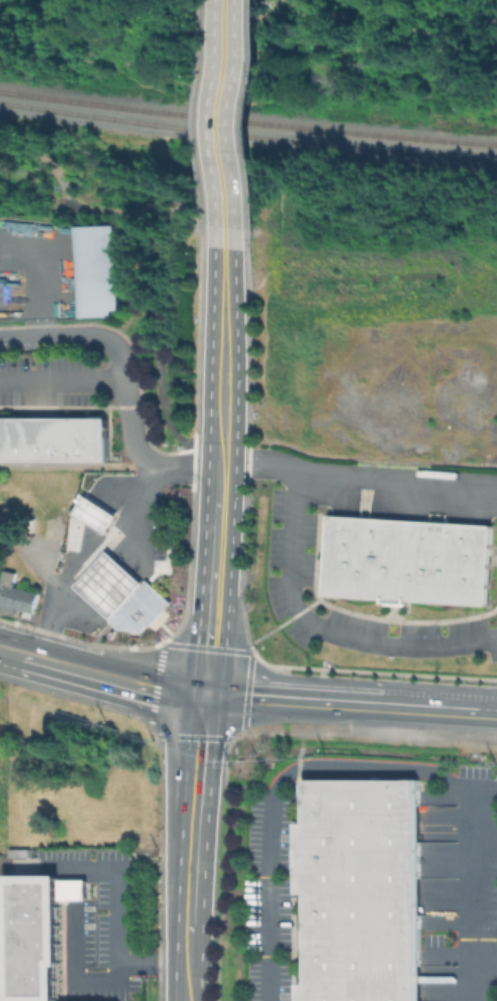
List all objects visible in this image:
railway: (248, 118)
road: (224, 124)
railway: (247, 133)
road: (42, 271)
building: (98, 272)
road: (223, 290)
road: (123, 378)
road: (62, 380)
road: (209, 414)
building: (53, 441)
road: (397, 484)
building: (94, 514)
road: (232, 516)
road: (94, 555)
building: (406, 559)
building: (108, 584)
building: (14, 595)
road: (200, 599)
building: (138, 608)
road: (301, 609)
road: (393, 609)
road: (363, 614)
road: (278, 625)
road: (168, 638)
road: (10, 662)
road: (104, 662)
road: (372, 670)
road: (112, 689)
road: (74, 698)
traffic signals: (205, 700)
road: (350, 710)
road: (204, 738)
road: (301, 738)
road: (281, 779)
road: (193, 815)
building: (20, 854)
road: (75, 874)
road: (75, 889)
building: (360, 889)
road: (479, 894)
road: (116, 915)
building: (38, 932)
road: (488, 964)
road: (186, 966)
road: (75, 968)

